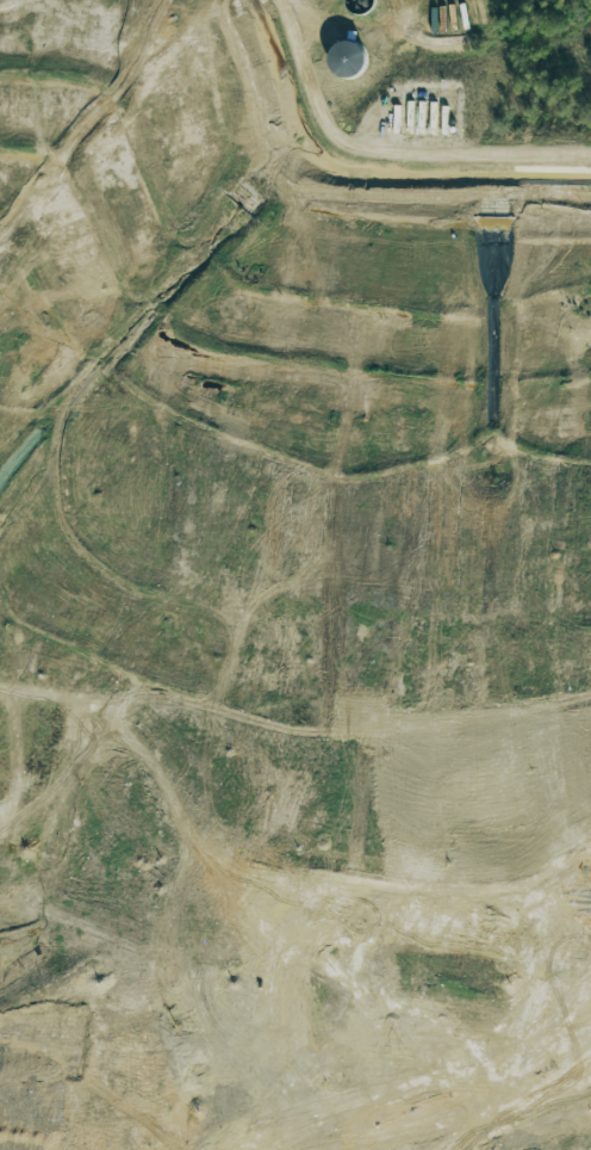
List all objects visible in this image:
road: (92, 67)
road: (385, 159)
landfill: (286, 602)

